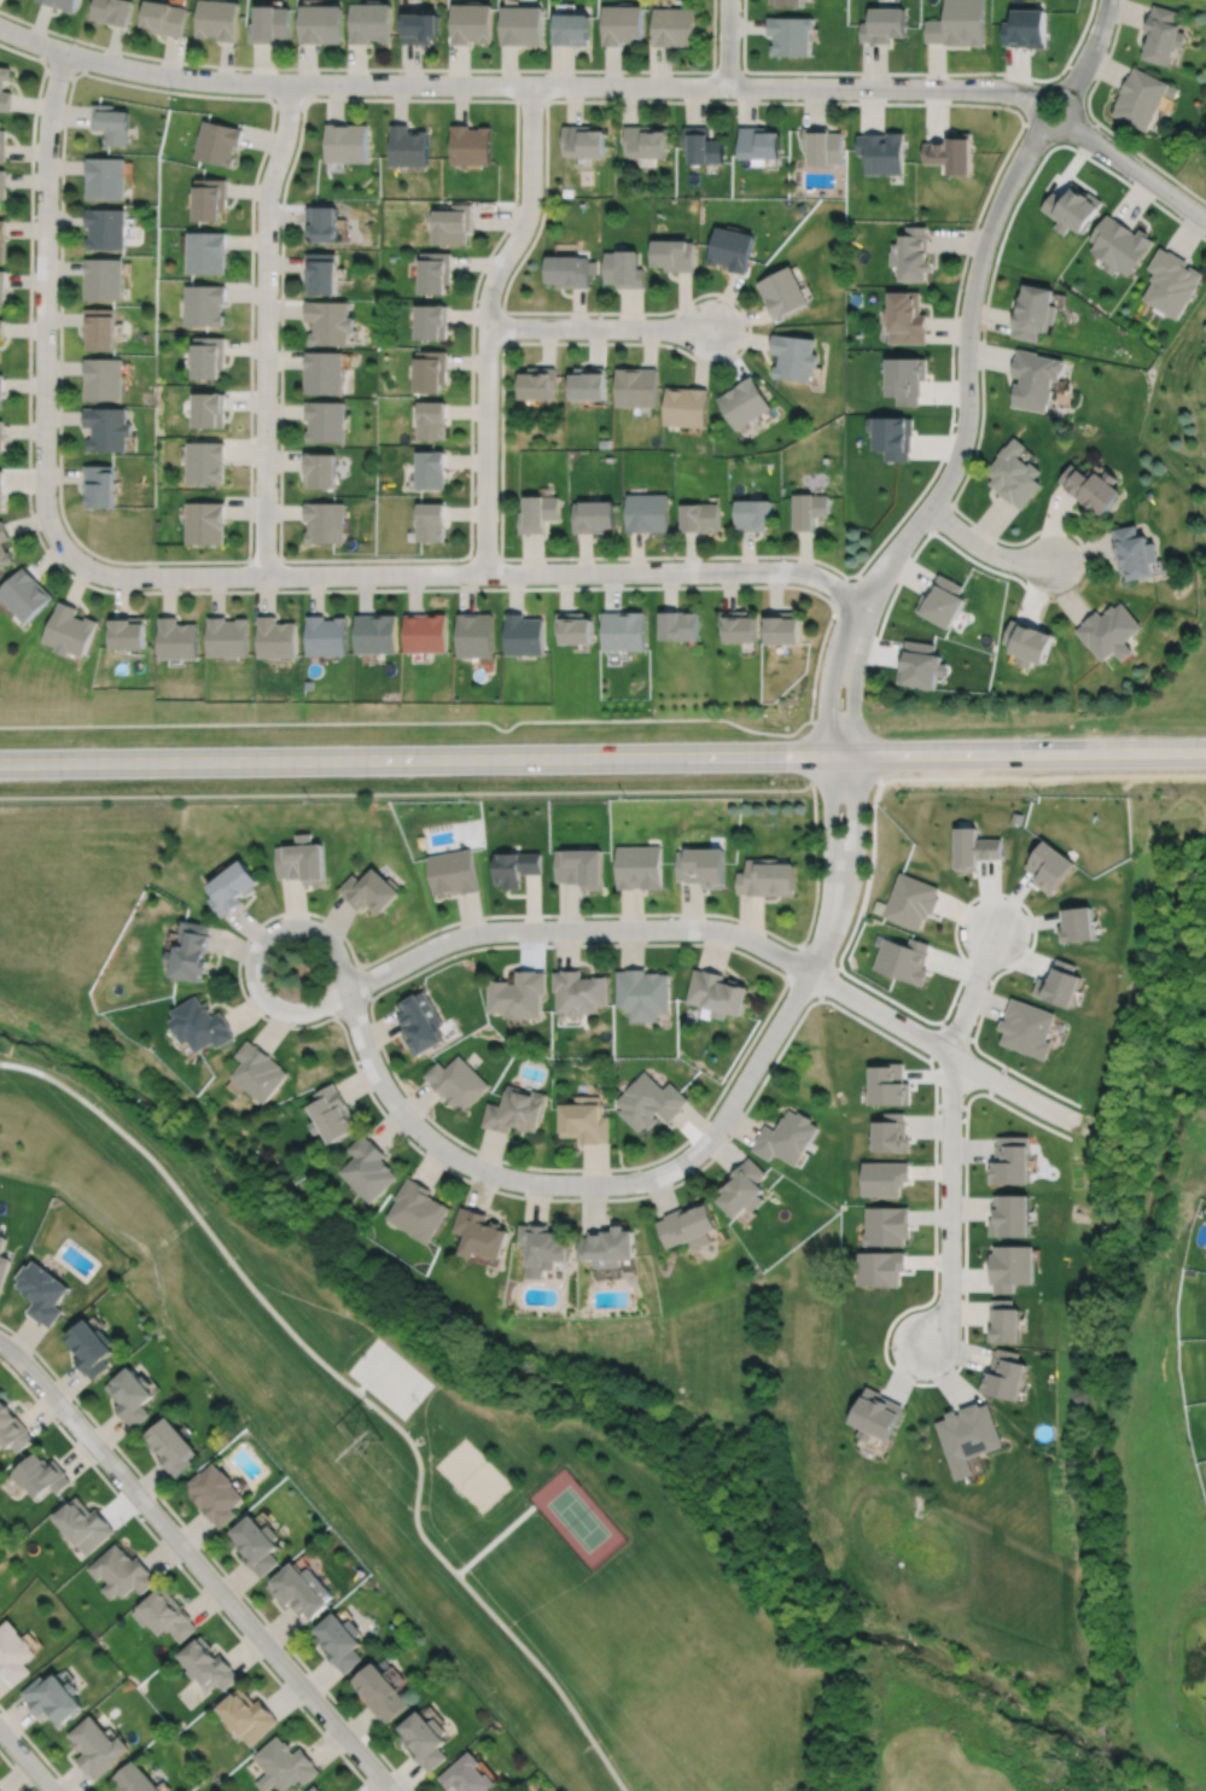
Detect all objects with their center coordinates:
building: (63, 4)
building: (787, 4)
building: (112, 11)
building: (164, 17)
building: (217, 18)
building: (371, 22)
building: (471, 22)
building: (269, 23)
building: (320, 23)
building: (522, 24)
building: (623, 24)
building: (959, 24)
building: (421, 27)
building: (675, 27)
building: (885, 27)
building: (572, 28)
building: (1027, 30)
building: (1161, 34)
building: (791, 37)
street lamp: (75, 41)
road: (728, 43)
street lamp: (1107, 48)
road: (1091, 49)
road: (388, 69)
road: (728, 70)
road: (907, 72)
street lamp: (850, 75)
building: (1, 84)
road: (517, 84)
building: (1141, 97)
street lamp: (730, 99)
street lamp: (37, 118)
road: (1097, 122)
building: (110, 123)
road: (1059, 129)
building: (581, 141)
building: (217, 142)
building: (348, 142)
building: (643, 142)
building: (758, 142)
building: (2, 144)
building: (472, 145)
street lamp: (1050, 145)
building: (409, 146)
building: (700, 146)
building: (822, 146)
building: (882, 153)
building: (951, 153)
road: (1137, 171)
park: (1194, 173)
building: (104, 179)
street lamp: (1131, 181)
building: (2, 186)
building: (210, 200)
street lamp: (58, 204)
building: (800, 206)
building: (1070, 209)
building: (322, 223)
building: (453, 224)
building: (105, 228)
building: (2, 240)
building: (1118, 245)
building: (730, 250)
building: (206, 253)
building: (672, 256)
building: (911, 256)
building: (322, 269)
building: (436, 269)
building: (622, 270)
building: (566, 272)
building: (103, 280)
building: (1170, 284)
building: (2, 286)
street lamp: (961, 287)
building: (783, 293)
building: (204, 305)
road: (45, 308)
building: (1031, 314)
street lamp: (34, 316)
building: (432, 319)
building: (905, 319)
building: (330, 320)
road: (487, 323)
building: (99, 325)
road: (266, 327)
road: (600, 327)
building: (2, 329)
building: (209, 354)
building: (0, 355)
building: (794, 358)
road: (700, 361)
building: (431, 368)
building: (325, 369)
road: (966, 371)
building: (103, 377)
building: (905, 380)
building: (1032, 380)
building: (536, 384)
building: (1, 386)
road: (59, 386)
building: (587, 386)
building: (636, 389)
street lamp: (57, 404)
building: (745, 404)
building: (209, 408)
building: (686, 408)
road: (280, 418)
building: (432, 418)
building: (326, 419)
street lamp: (955, 422)
building: (107, 426)
building: (1, 432)
building: (891, 437)
building: (204, 460)
road: (971, 463)
building: (431, 467)
building: (320, 468)
building: (1012, 476)
building: (98, 483)
building: (1, 489)
building: (1089, 490)
street lamp: (33, 511)
building: (809, 512)
building: (537, 514)
building: (645, 514)
building: (752, 517)
road: (939, 517)
building: (592, 518)
building: (699, 519)
building: (325, 520)
building: (432, 520)
building: (204, 521)
street lamp: (922, 536)
building: (5, 544)
road: (984, 548)
building: (1132, 555)
street lamp: (780, 559)
park: (1200, 560)
street lamp: (1006, 570)
road: (470, 573)
street lamp: (109, 587)
road: (222, 590)
building: (25, 593)
building: (942, 599)
street lamp: (832, 620)
building: (680, 624)
building: (739, 624)
building: (783, 625)
building: (575, 626)
building: (71, 629)
building: (129, 630)
building: (624, 630)
building: (1109, 630)
building: (425, 631)
building: (375, 632)
building: (476, 634)
building: (524, 634)
building: (229, 635)
building: (328, 635)
building: (278, 636)
building: (179, 637)
building: (1027, 641)
building: (919, 664)
road: (829, 675)
road: (853, 679)
street lamp: (862, 706)
street lamp: (815, 708)
road: (818, 722)
road: (410, 723)
road: (811, 751)
road: (1030, 756)
road: (427, 760)
road: (407, 792)
building: (975, 848)
building: (303, 861)
road: (831, 865)
building: (515, 867)
building: (640, 867)
building: (703, 867)
building: (1050, 867)
building: (581, 868)
road: (851, 868)
building: (455, 871)
building: (767, 877)
building: (234, 888)
building: (372, 891)
building: (911, 900)
road: (308, 912)
building: (1079, 924)
road: (576, 929)
road: (275, 930)
road: (954, 935)
road: (804, 949)
building: (192, 952)
building: (903, 959)
road: (827, 980)
road: (362, 981)
road: (804, 985)
building: (1061, 985)
building: (579, 992)
building: (519, 994)
building: (645, 994)
building: (718, 994)
building: (420, 1023)
building: (202, 1026)
building: (1029, 1028)
road: (957, 1033)
road: (937, 1040)
road: (943, 1049)
building: (260, 1073)
road: (995, 1080)
building: (456, 1083)
building: (890, 1086)
building: (649, 1102)
road: (950, 1105)
building: (515, 1112)
building: (334, 1116)
building: (584, 1121)
building: (890, 1131)
building: (786, 1134)
road: (950, 1137)
building: (1010, 1159)
road: (585, 1168)
building: (371, 1171)
building: (882, 1174)
road: (582, 1184)
building: (742, 1185)
road: (585, 1198)
building: (418, 1207)
building: (1010, 1213)
building: (686, 1220)
building: (886, 1223)
building: (0, 1226)
building: (482, 1230)
building: (1, 1237)
building: (607, 1243)
building: (541, 1245)
building: (2, 1265)
building: (879, 1265)
building: (1009, 1265)
building: (40, 1289)
building: (1003, 1319)
building: (89, 1344)
road: (895, 1370)
building: (1004, 1373)
park: (390, 1377)
building: (130, 1393)
road: (357, 1393)
building: (874, 1412)
building: (12, 1427)
building: (967, 1434)
building: (169, 1445)
power tower: (373, 1445)
building: (42, 1474)
park: (473, 1475)
park: (448, 1484)
building: (214, 1493)
park: (577, 1516)
building: (83, 1524)
road: (496, 1538)
building: (255, 1544)
road: (209, 1553)
road: (197, 1564)
building: (122, 1571)
road: (186, 1575)
building: (299, 1589)
building: (165, 1614)
building: (339, 1640)
building: (13, 1652)
building: (208, 1663)
building: (379, 1692)
building: (54, 1697)
building: (244, 1715)
building: (424, 1739)
building: (98, 1748)
road: (35, 1749)
road: (25, 1760)
building: (281, 1764)
road: (16, 1772)
building: (466, 1775)
building: (133, 1779)
building: (313, 1789)

